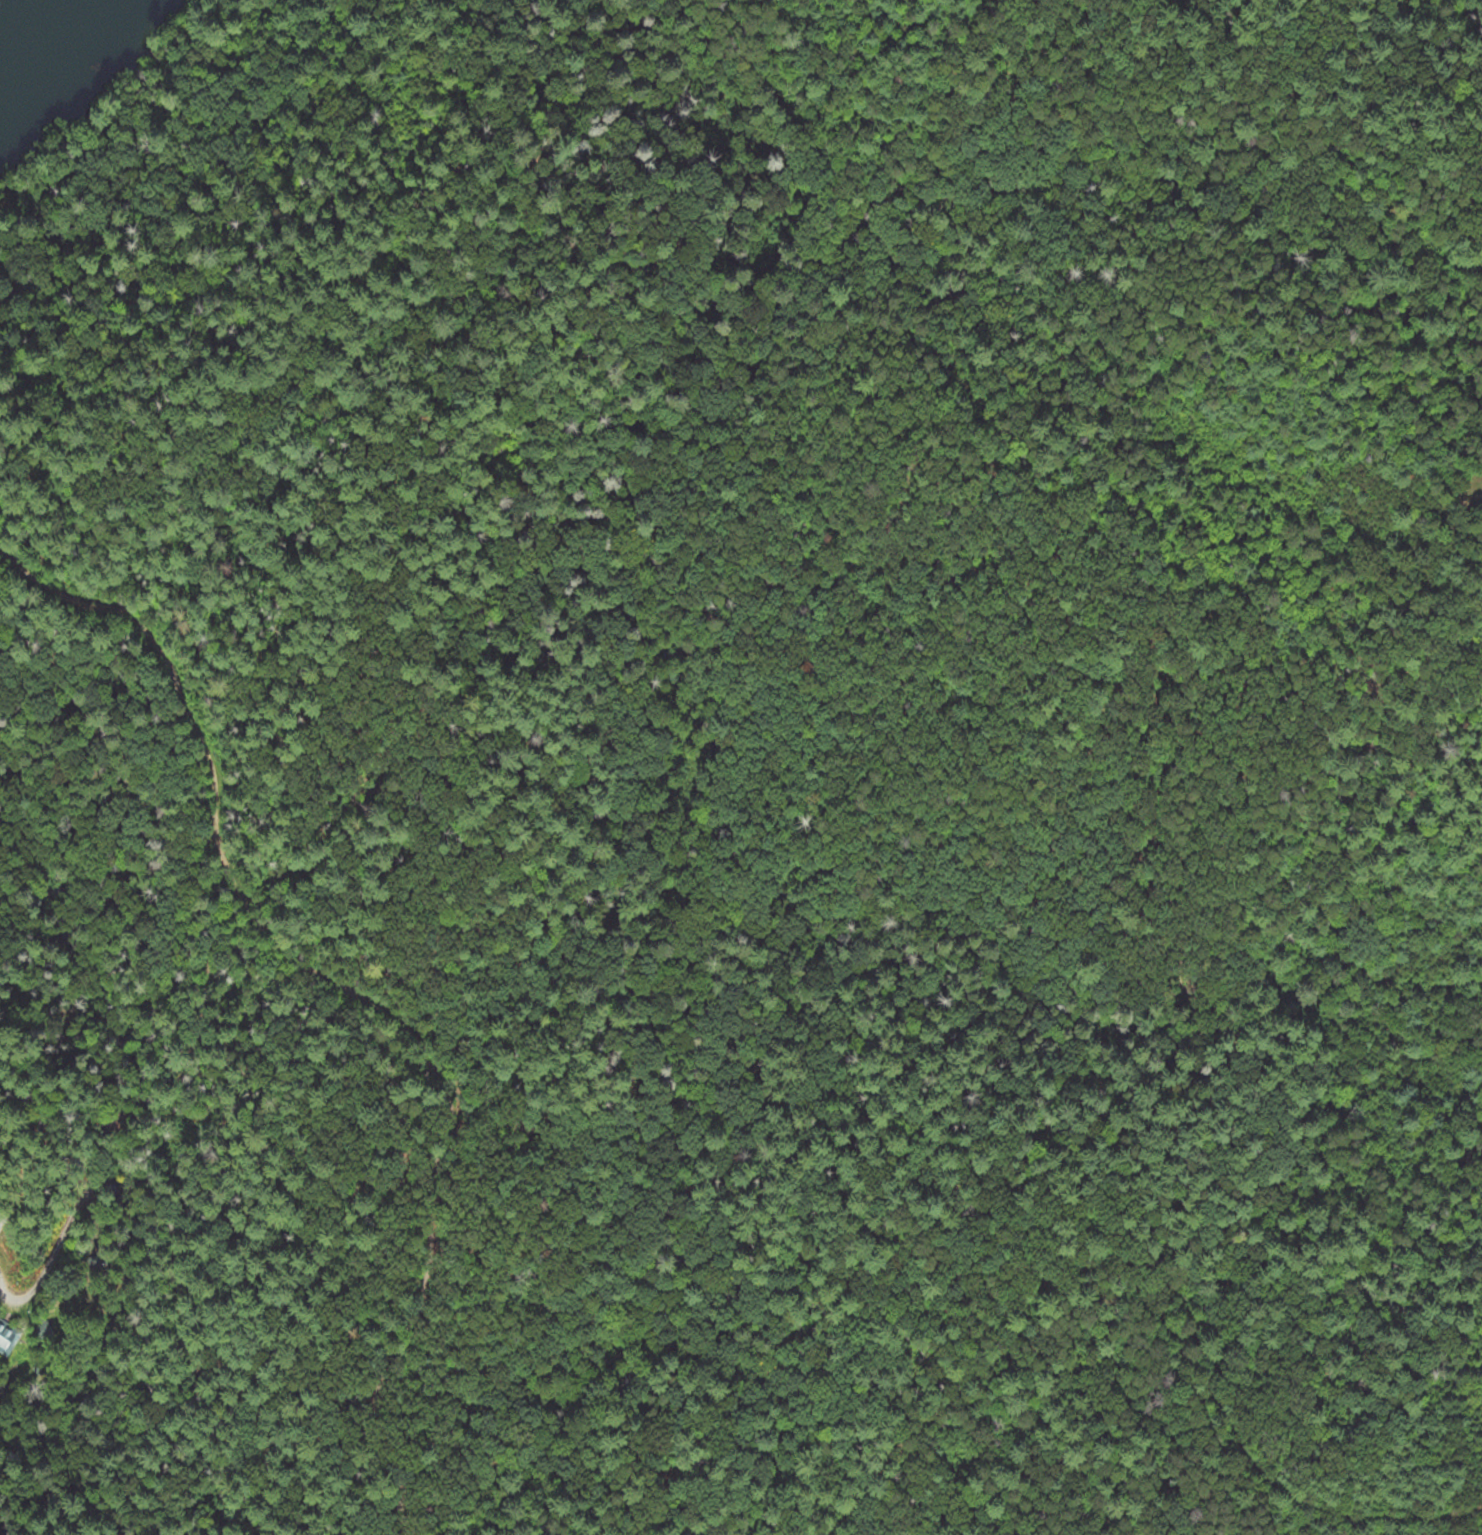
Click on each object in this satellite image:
road: (45, 1267)
building: (7, 1338)
road: (387, 1529)

